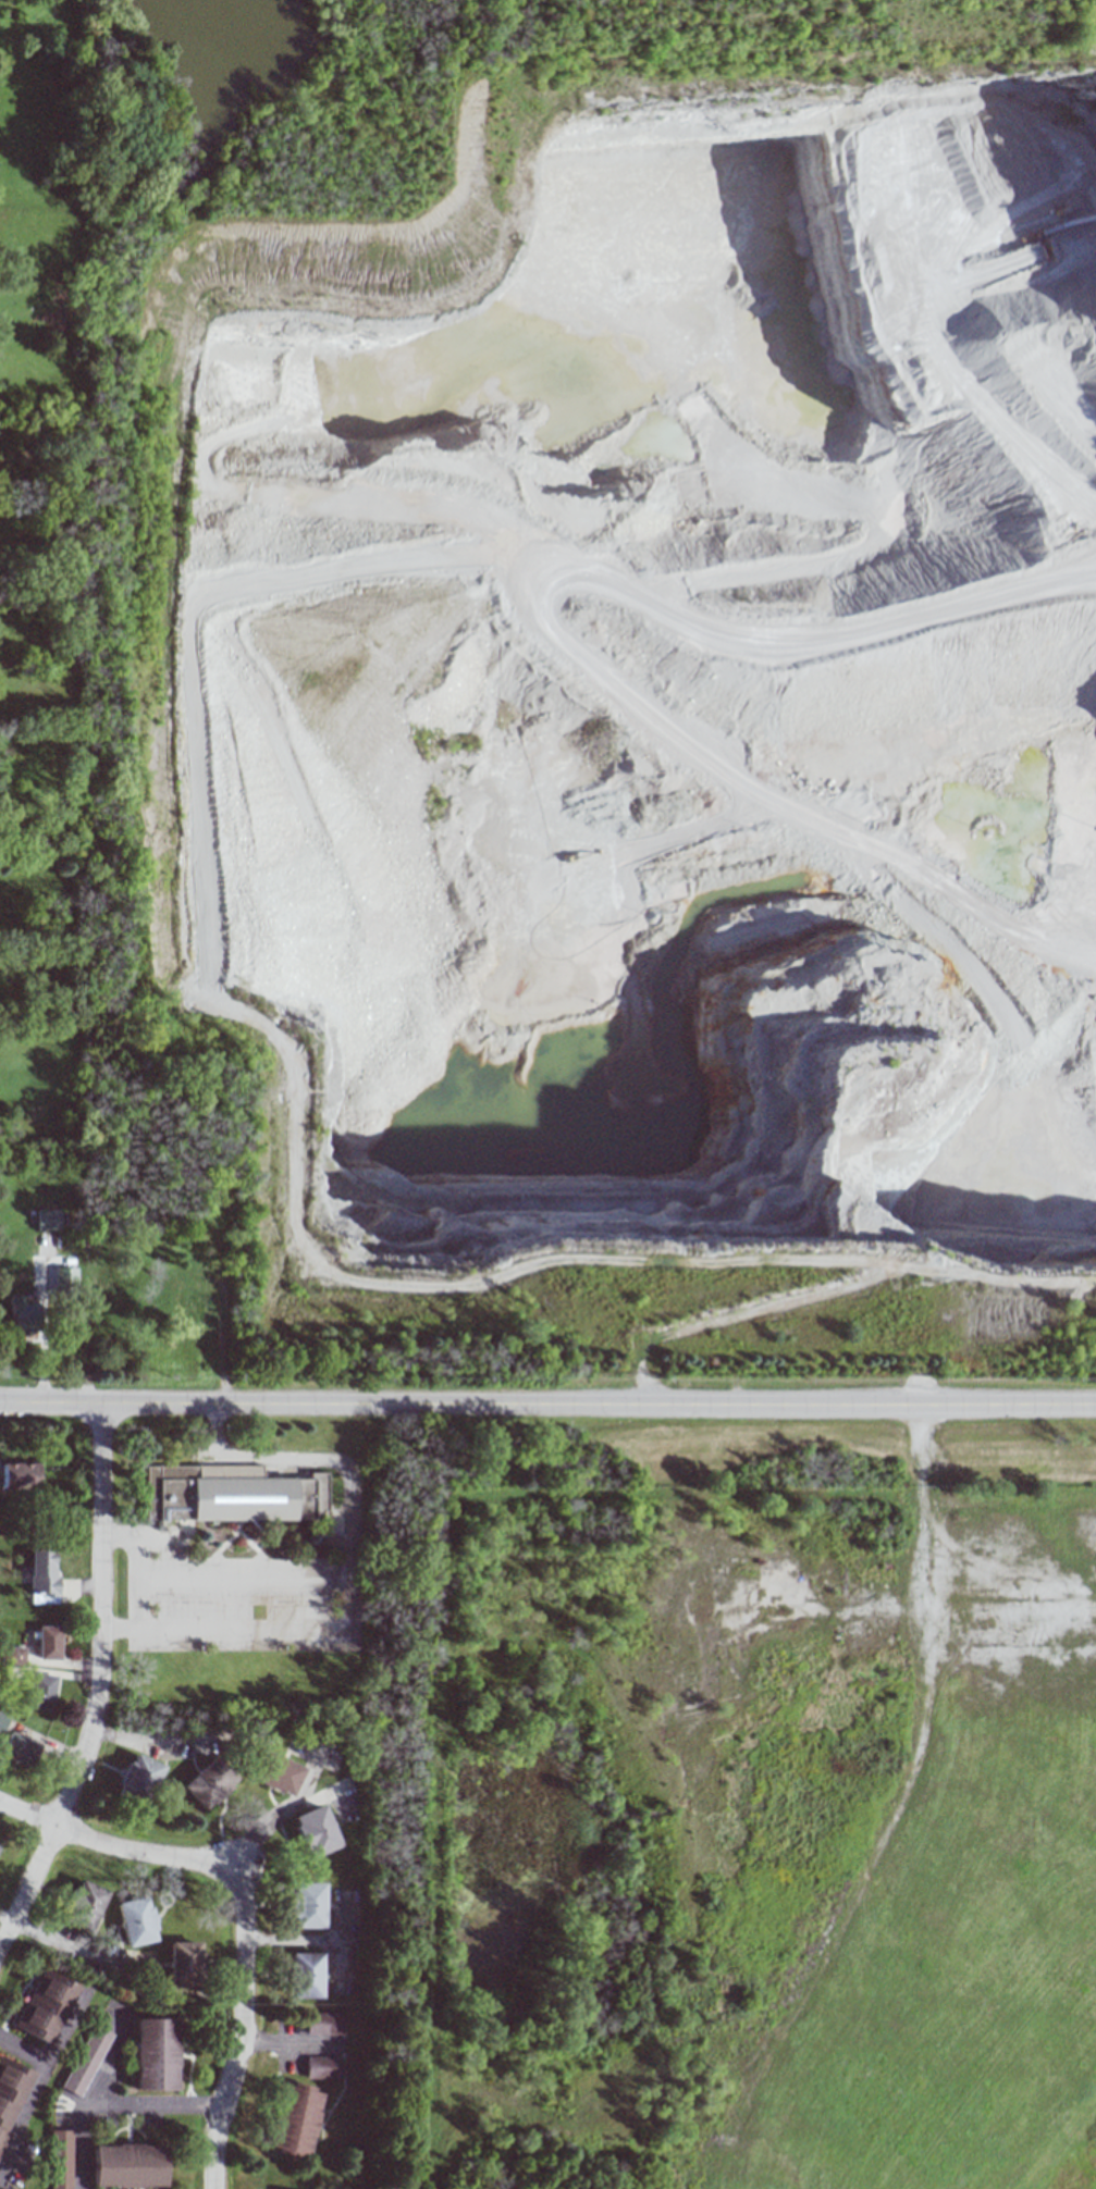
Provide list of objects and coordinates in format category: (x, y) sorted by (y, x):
road: (636, 562)
road: (169, 596)
quarry: (679, 691)
building: (47, 1220)
road: (993, 1272)
building: (64, 1276)
road: (848, 1281)
building: (22, 1314)
road: (44, 1332)
road: (547, 1405)
road: (276, 1462)
building: (17, 1475)
building: (220, 1499)
road: (149, 1538)
road: (307, 1542)
road: (210, 1553)
road: (249, 1555)
road: (128, 1572)
building: (41, 1573)
road: (322, 1579)
road: (218, 1583)
parking lot: (238, 1591)
road: (307, 1608)
road: (271, 1634)
building: (48, 1642)
building: (12, 1654)
road: (99, 1685)
building: (41, 1691)
building: (2, 1721)
building: (21, 1749)
building: (274, 1763)
building: (141, 1769)
building: (211, 1773)
building: (318, 1823)
airport: (746, 1832)
road: (118, 1851)
building: (84, 1900)
building: (307, 1900)
building: (134, 1914)
building: (182, 1956)
building: (307, 1966)
building: (41, 1999)
building: (323, 2023)
road: (243, 2026)
building: (155, 2054)
building: (85, 2060)
road: (107, 2062)
building: (323, 2067)
building: (10, 2092)
road: (32, 2093)
road: (110, 2103)
building: (298, 2112)
building: (60, 2159)
building: (127, 2165)
building: (298, 2187)

